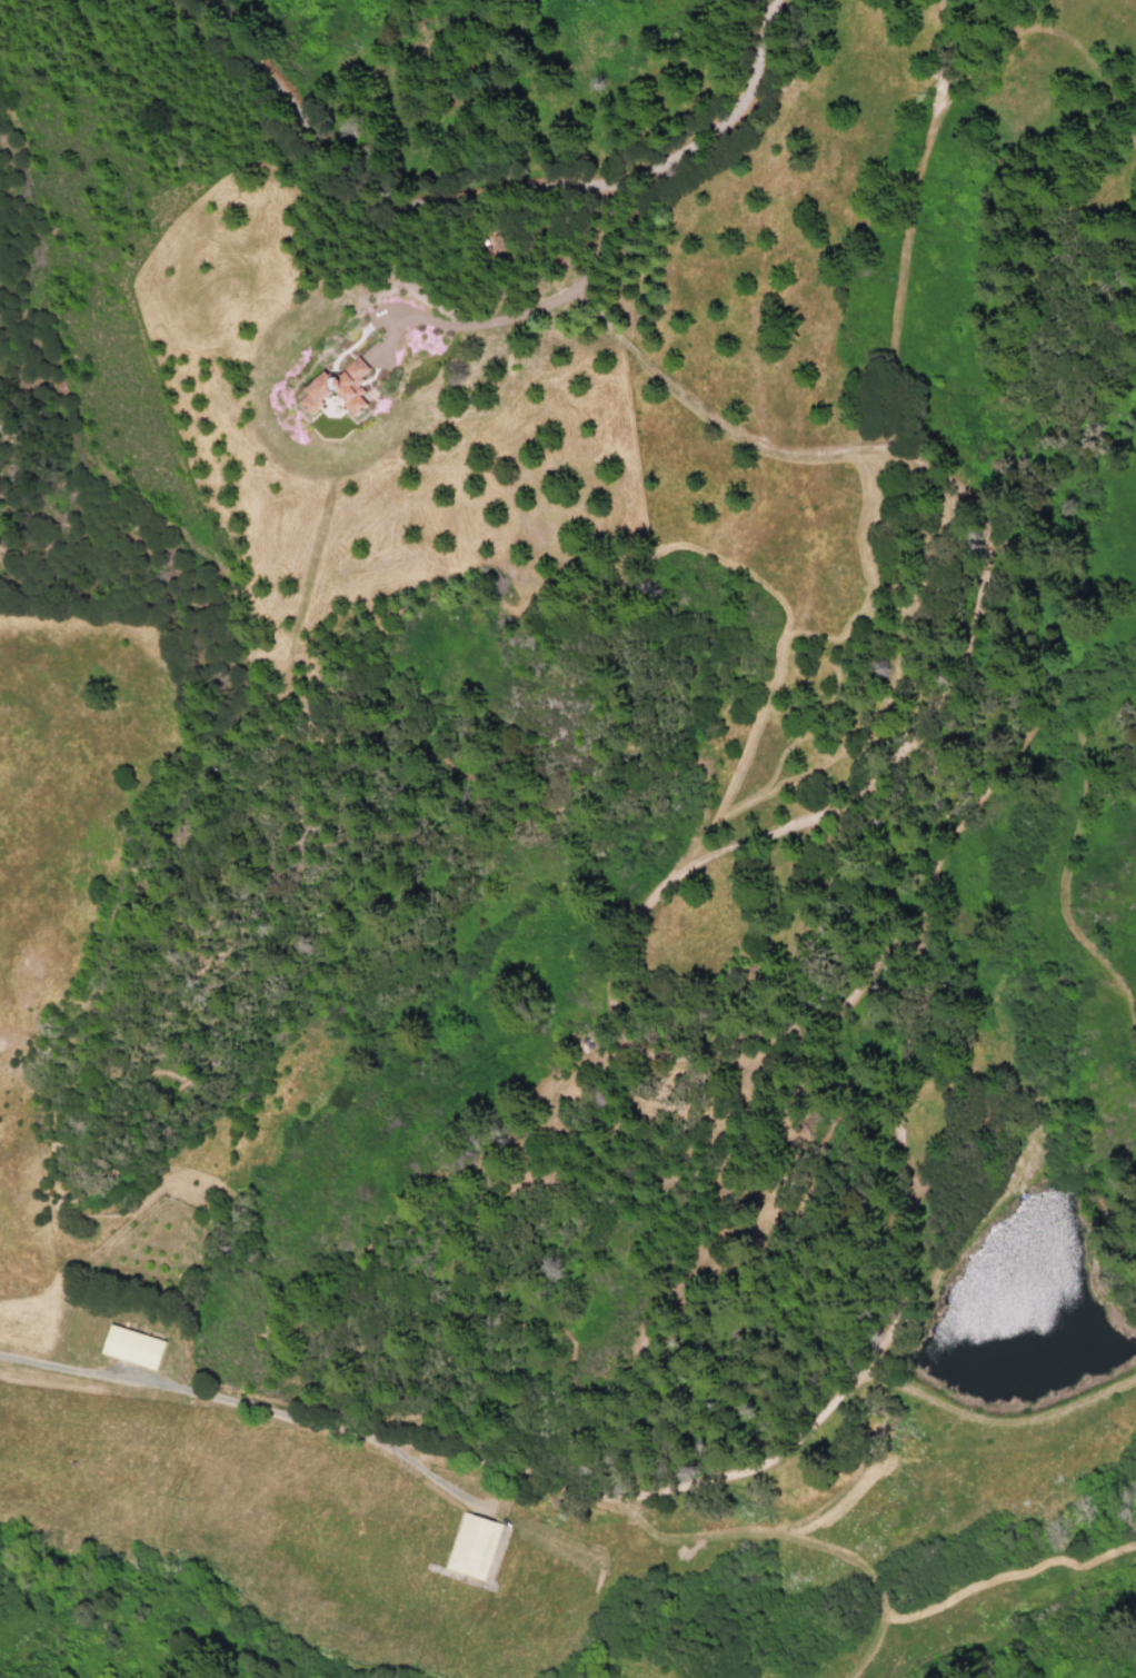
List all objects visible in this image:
road: (497, 199)
road: (518, 312)
building: (337, 385)
road: (867, 977)
building: (133, 1346)
building: (474, 1546)

